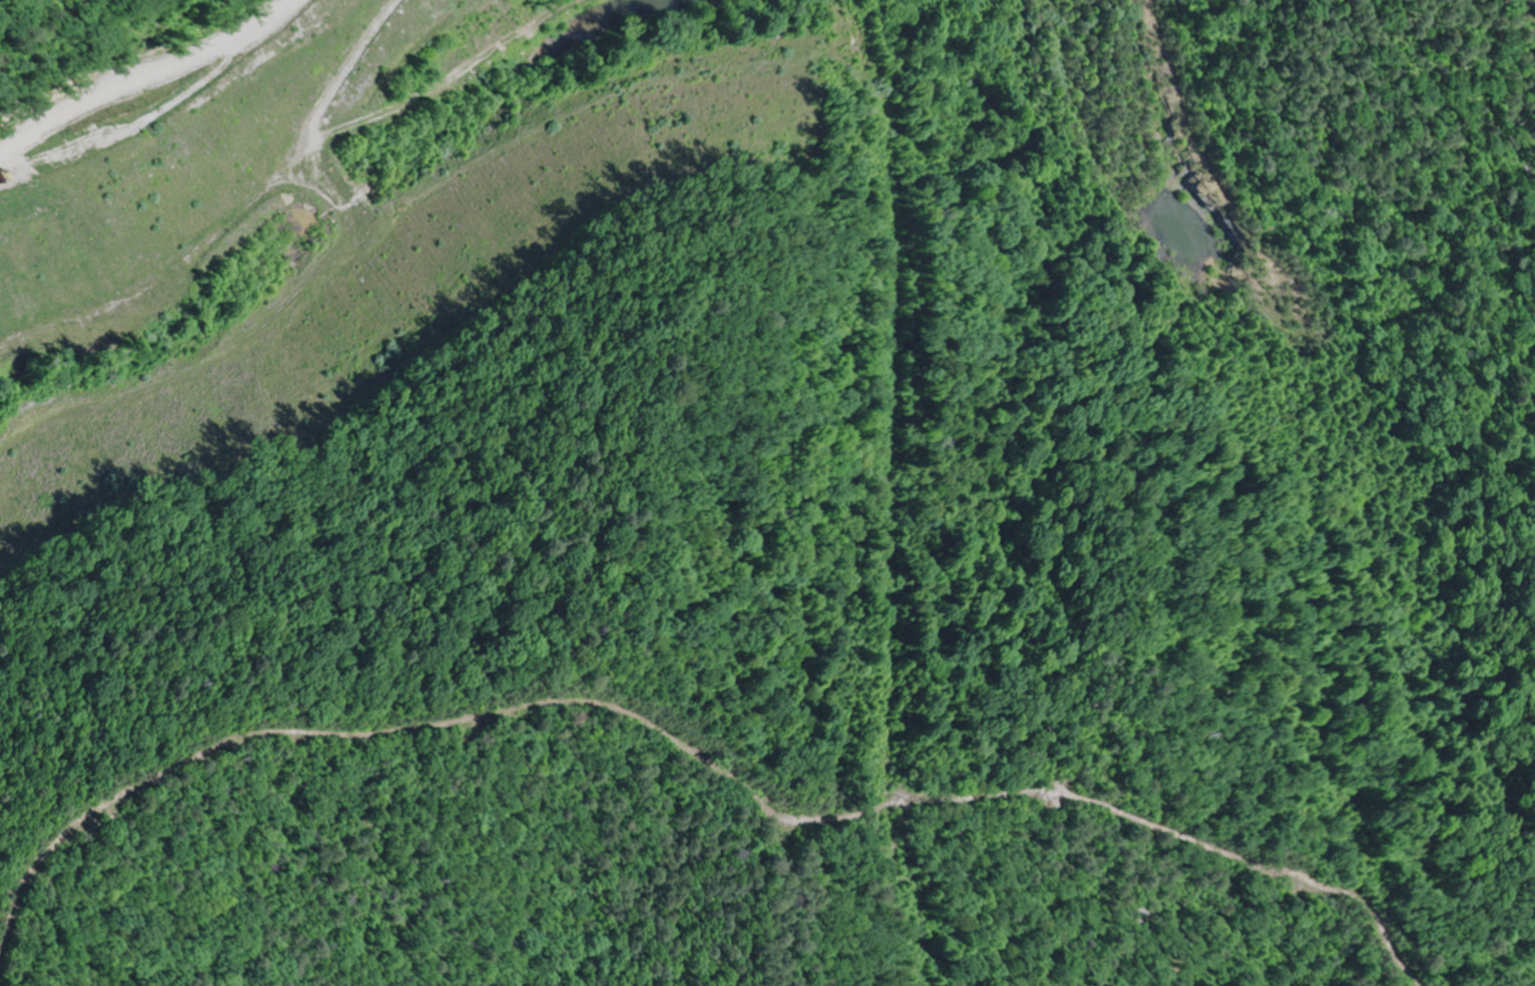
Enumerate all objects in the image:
road: (189, 117)

